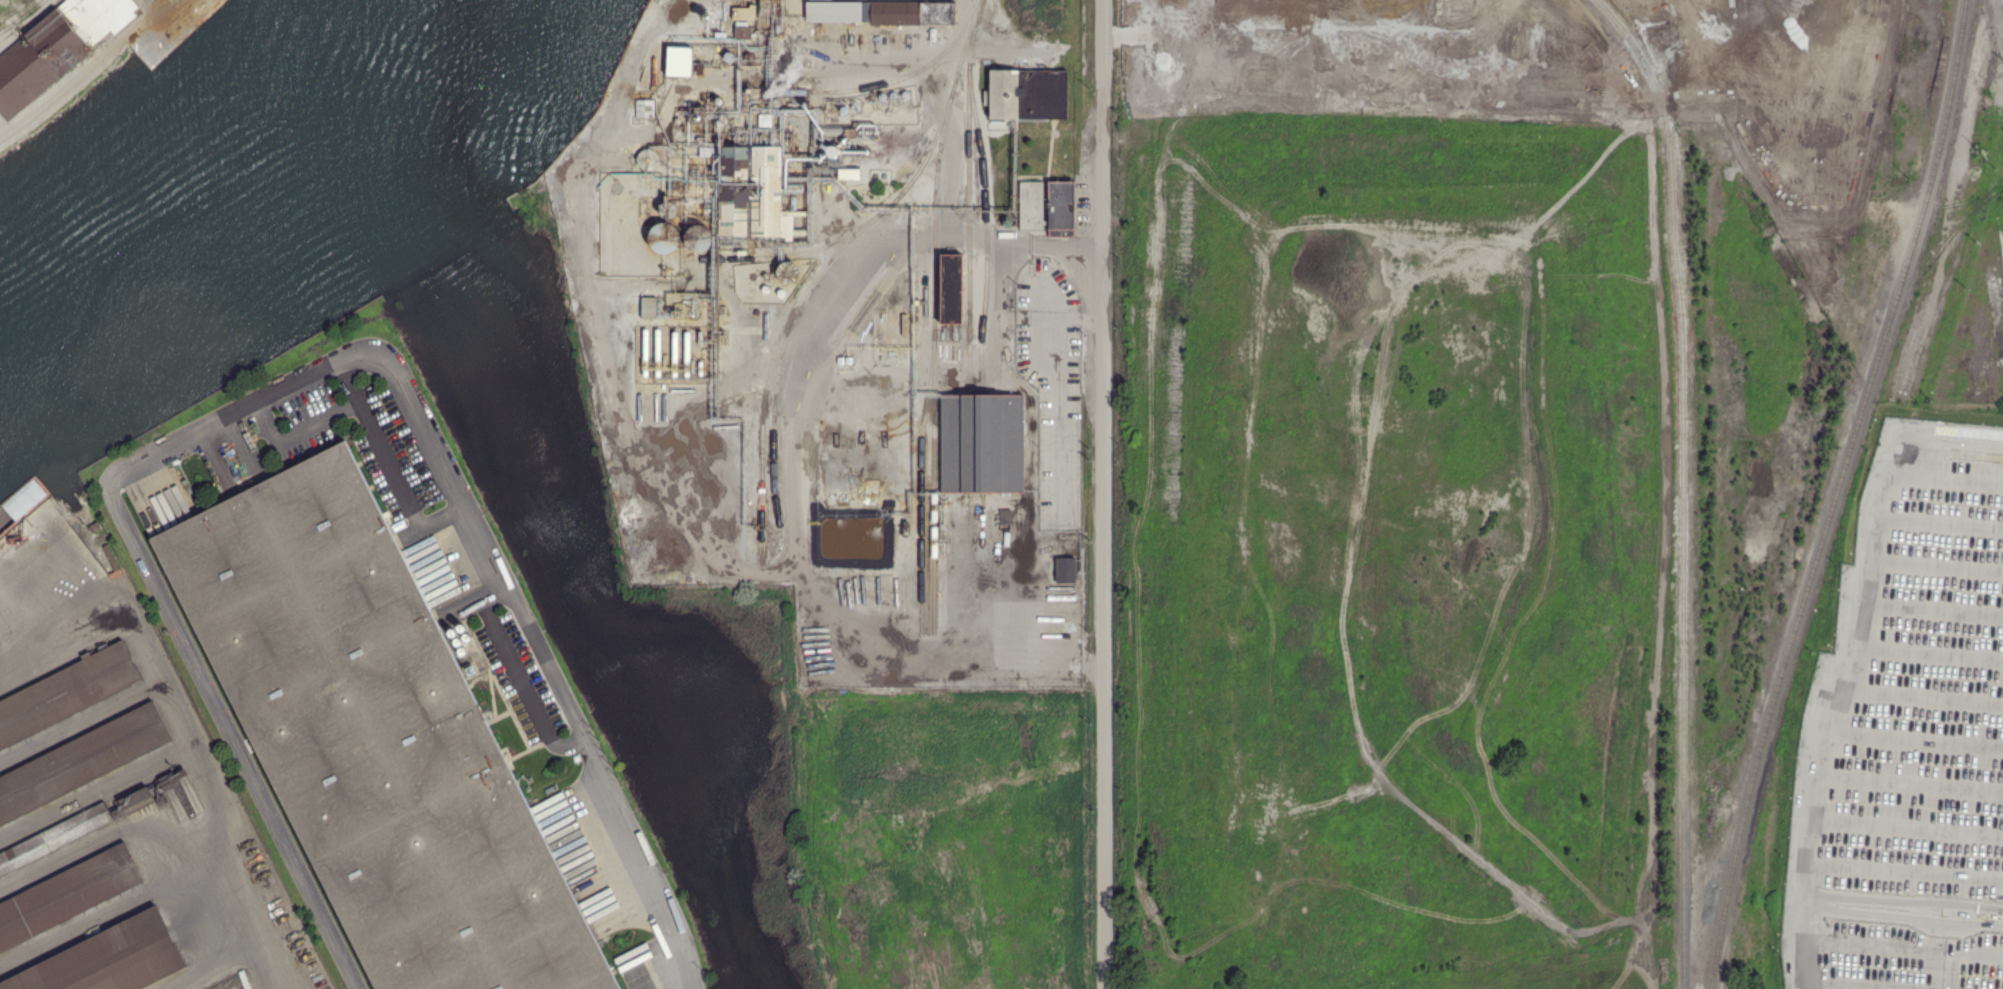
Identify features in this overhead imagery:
railway: (656, 1)
building: (883, 13)
building: (743, 31)
building: (57, 48)
building: (680, 62)
railway: (891, 81)
building: (1027, 95)
building: (645, 109)
building: (758, 121)
building: (647, 159)
building: (849, 173)
building: (741, 191)
railway: (969, 196)
railway: (896, 200)
railway: (984, 202)
building: (1031, 205)
building: (667, 208)
building: (1061, 209)
river: (241, 210)
building: (664, 236)
building: (697, 237)
building: (787, 272)
building: (952, 289)
building: (648, 306)
building: (841, 360)
building: (850, 361)
railway: (934, 362)
railway: (772, 367)
road: (306, 374)
road: (351, 382)
railway: (774, 417)
road: (371, 427)
building: (981, 443)
railway: (969, 444)
road: (1945, 478)
railway: (923, 481)
railway: (1683, 484)
railway: (1837, 493)
road: (1104, 494)
railway: (970, 505)
building: (1009, 516)
road: (1940, 523)
building: (96, 564)
road: (1935, 567)
building: (1065, 570)
road: (471, 604)
road: (1930, 609)
road: (1925, 652)
road: (1845, 657)
parking lot: (521, 680)
road: (524, 685)
building: (66, 694)
road: (1921, 696)
road: (185, 726)
parking lot: (1907, 732)
building: (373, 738)
road: (1916, 740)
building: (81, 762)
building: (169, 781)
road: (1911, 784)
building: (135, 799)
road: (1906, 827)
building: (54, 838)
road: (1904, 870)
building: (67, 896)
road: (1867, 905)
road: (1932, 911)
road: (1902, 944)
road: (643, 955)
building: (109, 959)
parking lot: (637, 970)
road: (1848, 986)

